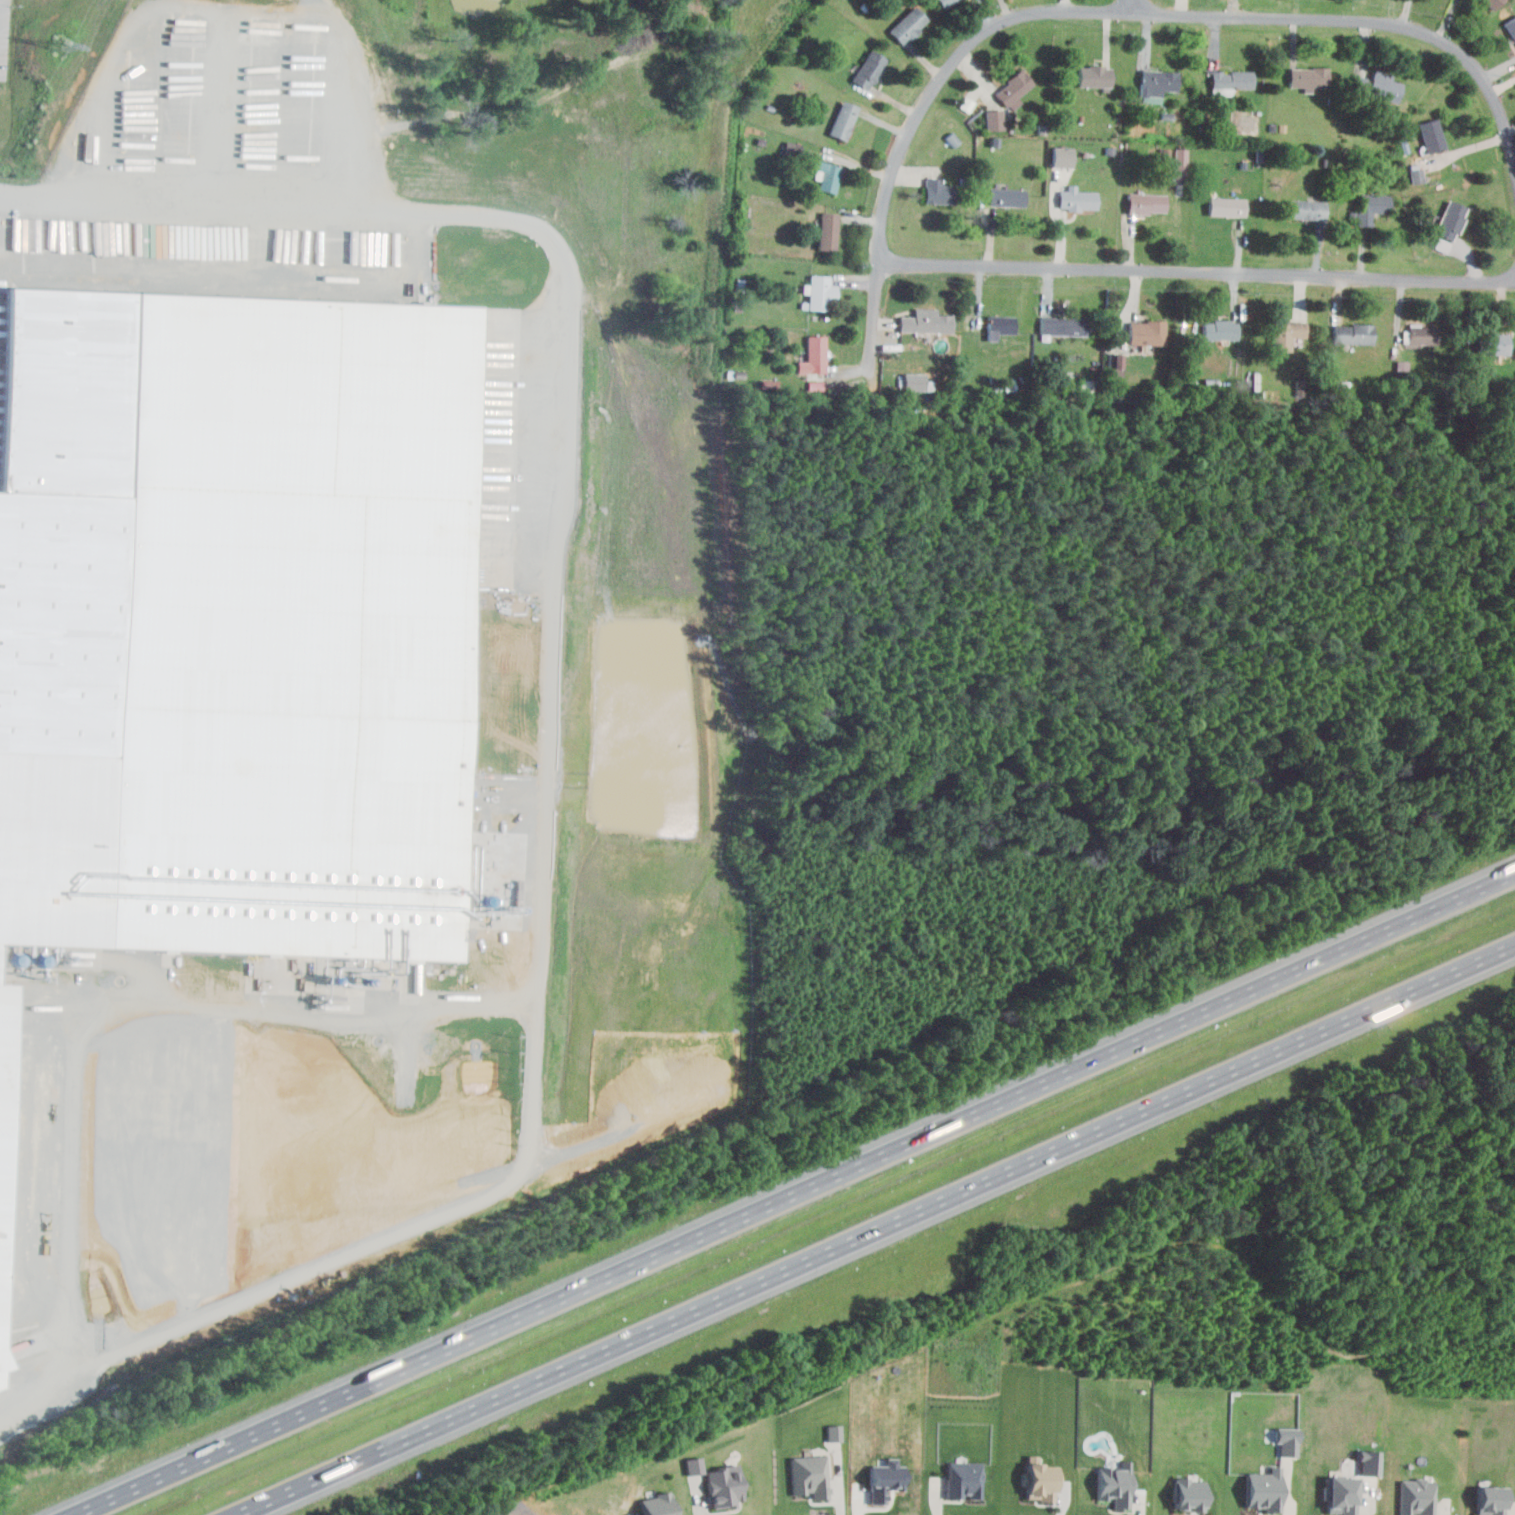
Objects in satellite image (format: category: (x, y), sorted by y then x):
building: (944, 2)
building: (1491, 3)
road: (1136, 6)
road: (1095, 10)
building: (908, 24)
building: (1510, 27)
building: (869, 70)
building: (1095, 76)
building: (1308, 76)
building: (1229, 81)
building: (1157, 82)
building: (1014, 87)
building: (1378, 87)
road: (343, 99)
building: (995, 119)
building: (842, 120)
building: (1432, 136)
building: (1064, 155)
building: (1180, 166)
building: (1418, 174)
building: (829, 178)
building: (938, 192)
building: (1007, 197)
building: (1077, 198)
building: (1145, 203)
building: (1226, 206)
building: (1371, 207)
building: (1307, 210)
building: (1449, 221)
building: (828, 231)
road: (1197, 272)
building: (821, 292)
building: (927, 323)
building: (1001, 324)
building: (1063, 326)
building: (1220, 330)
building: (1146, 332)
building: (1353, 333)
building: (1286, 334)
building: (1422, 335)
building: (1492, 344)
building: (814, 356)
building: (1117, 362)
building: (914, 381)
building: (1300, 385)
building: (233, 632)
road: (542, 778)
road: (1084, 1136)
road: (795, 1194)
road: (444, 1421)
building: (835, 1432)
building: (1289, 1441)
building: (1371, 1463)
building: (695, 1465)
building: (811, 1476)
building: (965, 1480)
building: (1041, 1482)
building: (1116, 1485)
building: (725, 1486)
building: (1266, 1490)
building: (1191, 1494)
building: (1342, 1495)
building: (1418, 1496)
building: (1493, 1500)
building: (658, 1504)

